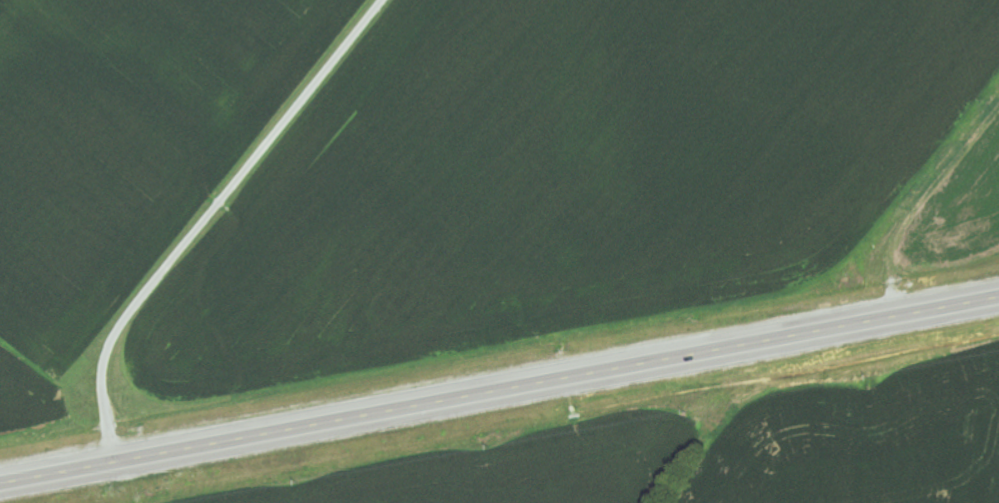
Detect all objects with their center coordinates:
road: (206, 209)
road: (499, 367)

